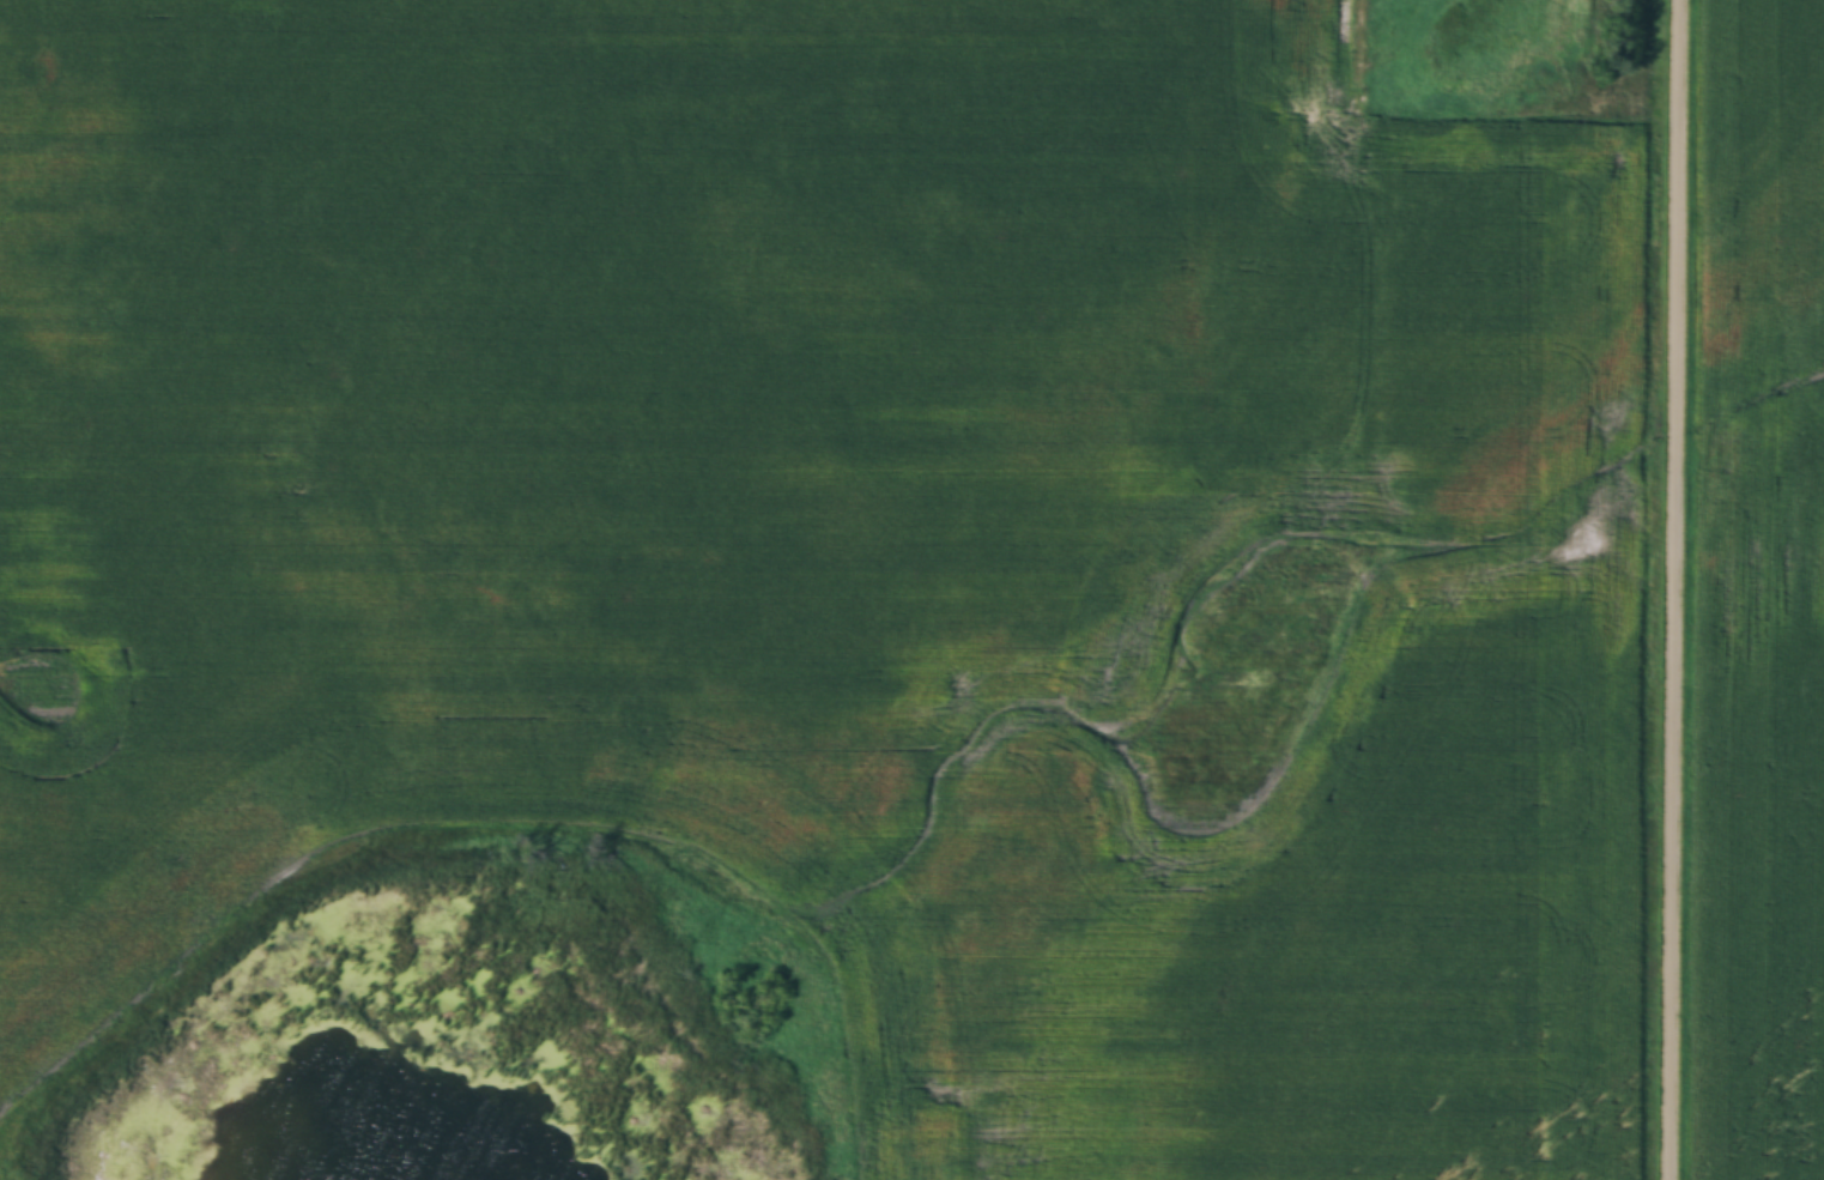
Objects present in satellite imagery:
road: (1678, 589)

